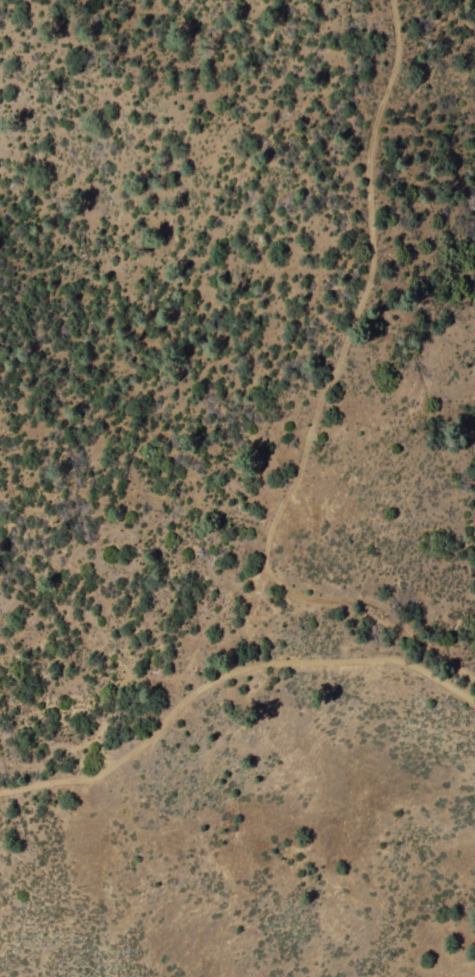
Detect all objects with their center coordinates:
road: (301, 472)

